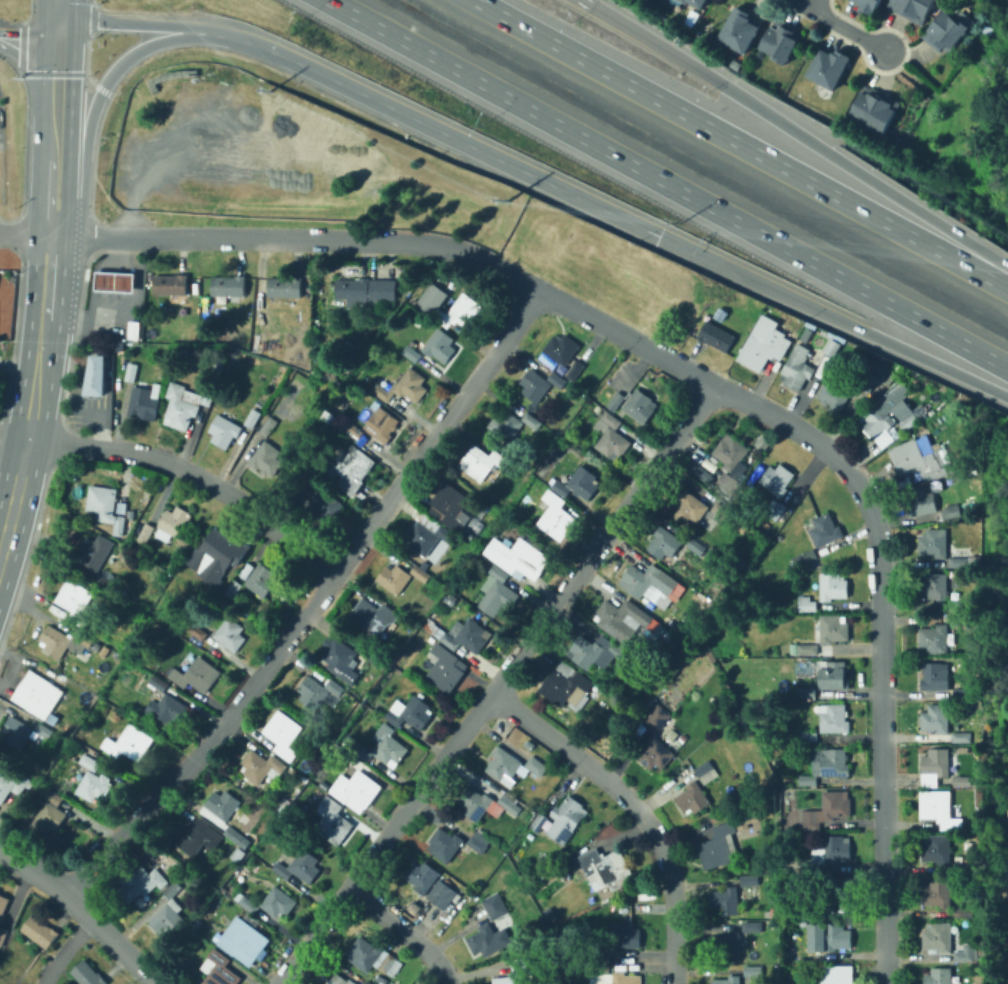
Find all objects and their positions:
road: (584, 1)
building: (686, 1)
road: (91, 2)
building: (700, 2)
road: (799, 5)
road: (811, 5)
building: (870, 5)
road: (59, 8)
building: (915, 8)
road: (28, 11)
traffic signals: (59, 17)
road: (92, 18)
road: (165, 23)
building: (741, 29)
road: (848, 30)
building: (947, 30)
building: (782, 40)
road: (28, 43)
traffic signals: (58, 47)
road: (86, 58)
building: (830, 67)
road: (27, 72)
road: (101, 88)
building: (876, 109)
road: (55, 115)
road: (89, 121)
road: (797, 133)
road: (464, 141)
road: (742, 143)
road: (24, 152)
road: (93, 153)
road: (667, 183)
road: (90, 225)
road: (24, 232)
traffic signals: (659, 235)
road: (397, 240)
road: (46, 274)
building: (116, 282)
building: (171, 284)
building: (229, 285)
building: (285, 287)
building: (365, 291)
building: (468, 305)
road: (833, 316)
building: (261, 317)
building: (134, 330)
building: (716, 337)
building: (763, 343)
building: (440, 345)
building: (833, 346)
building: (562, 349)
building: (412, 353)
building: (234, 357)
building: (799, 368)
building: (575, 370)
building: (327, 371)
building: (131, 372)
building: (96, 376)
building: (558, 379)
building: (869, 380)
building: (614, 381)
building: (535, 385)
building: (404, 387)
road: (36, 388)
building: (835, 395)
building: (144, 401)
building: (616, 401)
building: (185, 404)
building: (640, 405)
road: (20, 406)
building: (883, 410)
building: (903, 410)
road: (76, 411)
building: (328, 415)
building: (253, 418)
building: (532, 421)
building: (909, 422)
building: (506, 425)
building: (269, 426)
building: (382, 426)
building: (354, 430)
building: (224, 431)
road: (438, 432)
building: (611, 437)
building: (886, 440)
building: (531, 442)
building: (730, 453)
building: (919, 458)
building: (267, 459)
building: (482, 461)
road: (183, 467)
building: (349, 468)
building: (713, 471)
building: (699, 472)
building: (776, 479)
building: (729, 482)
building: (580, 484)
road: (16, 497)
building: (321, 500)
building: (921, 501)
building: (105, 506)
building: (450, 507)
building: (122, 508)
building: (690, 508)
building: (774, 509)
building: (518, 510)
building: (722, 511)
building: (951, 512)
building: (554, 514)
building: (174, 523)
building: (824, 530)
building: (138, 531)
building: (146, 533)
building: (429, 534)
building: (472, 536)
building: (779, 537)
building: (663, 543)
building: (934, 544)
building: (696, 546)
building: (95, 551)
building: (220, 552)
building: (518, 558)
building: (804, 558)
building: (960, 560)
building: (740, 562)
building: (427, 564)
building: (247, 571)
building: (421, 573)
building: (394, 577)
building: (261, 580)
building: (211, 581)
building: (106, 582)
building: (649, 584)
building: (832, 585)
building: (933, 586)
building: (233, 589)
building: (497, 592)
building: (453, 599)
building: (76, 601)
building: (807, 604)
building: (960, 605)
building: (246, 613)
building: (373, 617)
building: (430, 619)
building: (622, 620)
building: (960, 620)
building: (184, 624)
building: (833, 630)
building: (198, 631)
building: (806, 633)
building: (230, 634)
building: (464, 635)
building: (935, 639)
road: (879, 641)
building: (62, 644)
building: (97, 646)
building: (807, 649)
building: (366, 650)
building: (106, 651)
building: (595, 652)
building: (341, 659)
building: (631, 662)
building: (446, 668)
building: (640, 669)
building: (832, 674)
building: (196, 675)
building: (934, 677)
building: (400, 679)
building: (159, 683)
road: (497, 685)
building: (565, 685)
building: (596, 690)
building: (359, 691)
building: (319, 692)
building: (807, 692)
building: (962, 693)
building: (39, 695)
building: (603, 696)
building: (610, 700)
building: (619, 704)
building: (168, 708)
building: (411, 712)
building: (834, 718)
building: (936, 718)
building: (54, 719)
building: (659, 721)
building: (67, 726)
building: (45, 729)
building: (17, 732)
building: (284, 734)
building: (807, 736)
building: (962, 737)
building: (683, 738)
road: (212, 739)
building: (776, 740)
building: (130, 743)
building: (964, 748)
building: (390, 749)
building: (72, 752)
building: (656, 754)
building: (90, 762)
building: (834, 762)
building: (936, 762)
building: (513, 765)
building: (262, 766)
building: (706, 772)
building: (808, 780)
building: (787, 781)
building: (963, 781)
building: (10, 782)
building: (979, 782)
building: (93, 786)
building: (356, 790)
building: (51, 796)
building: (693, 798)
building: (222, 804)
building: (486, 804)
road: (635, 808)
building: (939, 809)
building: (828, 811)
building: (49, 817)
building: (566, 819)
building: (333, 821)
building: (539, 822)
building: (197, 837)
building: (237, 837)
building: (478, 842)
building: (525, 843)
building: (445, 844)
building: (719, 846)
building: (142, 849)
building: (937, 850)
building: (831, 852)
building: (239, 855)
building: (298, 866)
building: (604, 867)
building: (810, 868)
building: (963, 869)
building: (978, 869)
building: (785, 870)
building: (189, 873)
building: (422, 876)
building: (159, 879)
building: (749, 880)
building: (132, 884)
building: (836, 893)
building: (937, 893)
building: (441, 894)
building: (970, 899)
building: (247, 901)
building: (727, 901)
building: (278, 902)
building: (3, 904)
building: (495, 906)
road: (84, 909)
building: (964, 911)
building: (811, 912)
building: (169, 913)
building: (551, 915)
road: (89, 923)
building: (197, 923)
building: (752, 926)
building: (40, 931)
road: (405, 931)
building: (2, 934)
road: (79, 936)
building: (836, 936)
building: (938, 937)
building: (245, 940)
building: (488, 940)
building: (620, 940)
building: (727, 946)
building: (966, 953)
building: (811, 956)
building: (373, 957)
road: (58, 963)
building: (219, 969)
building: (753, 971)
building: (517, 972)
building: (87, 974)
building: (836, 975)
building: (612, 976)
building: (938, 976)
building: (339, 979)
building: (729, 980)
building: (367, 982)

